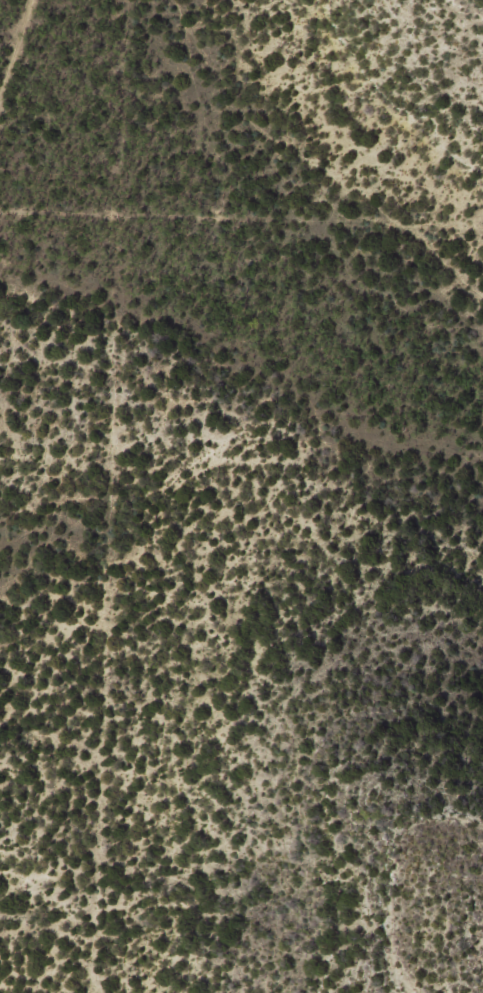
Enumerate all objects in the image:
road: (9, 40)

